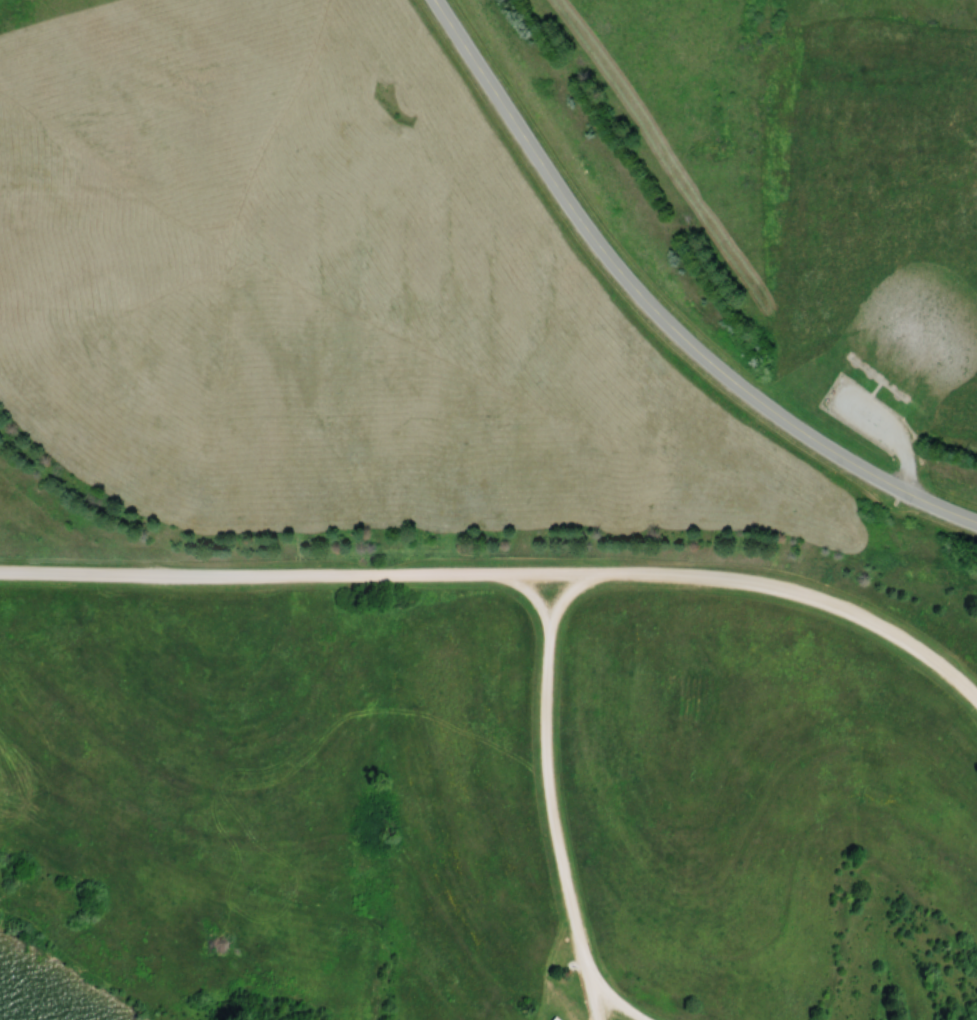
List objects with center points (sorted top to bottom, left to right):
road: (659, 311)
road: (505, 577)
road: (543, 786)
park: (485, 790)
road: (605, 995)

